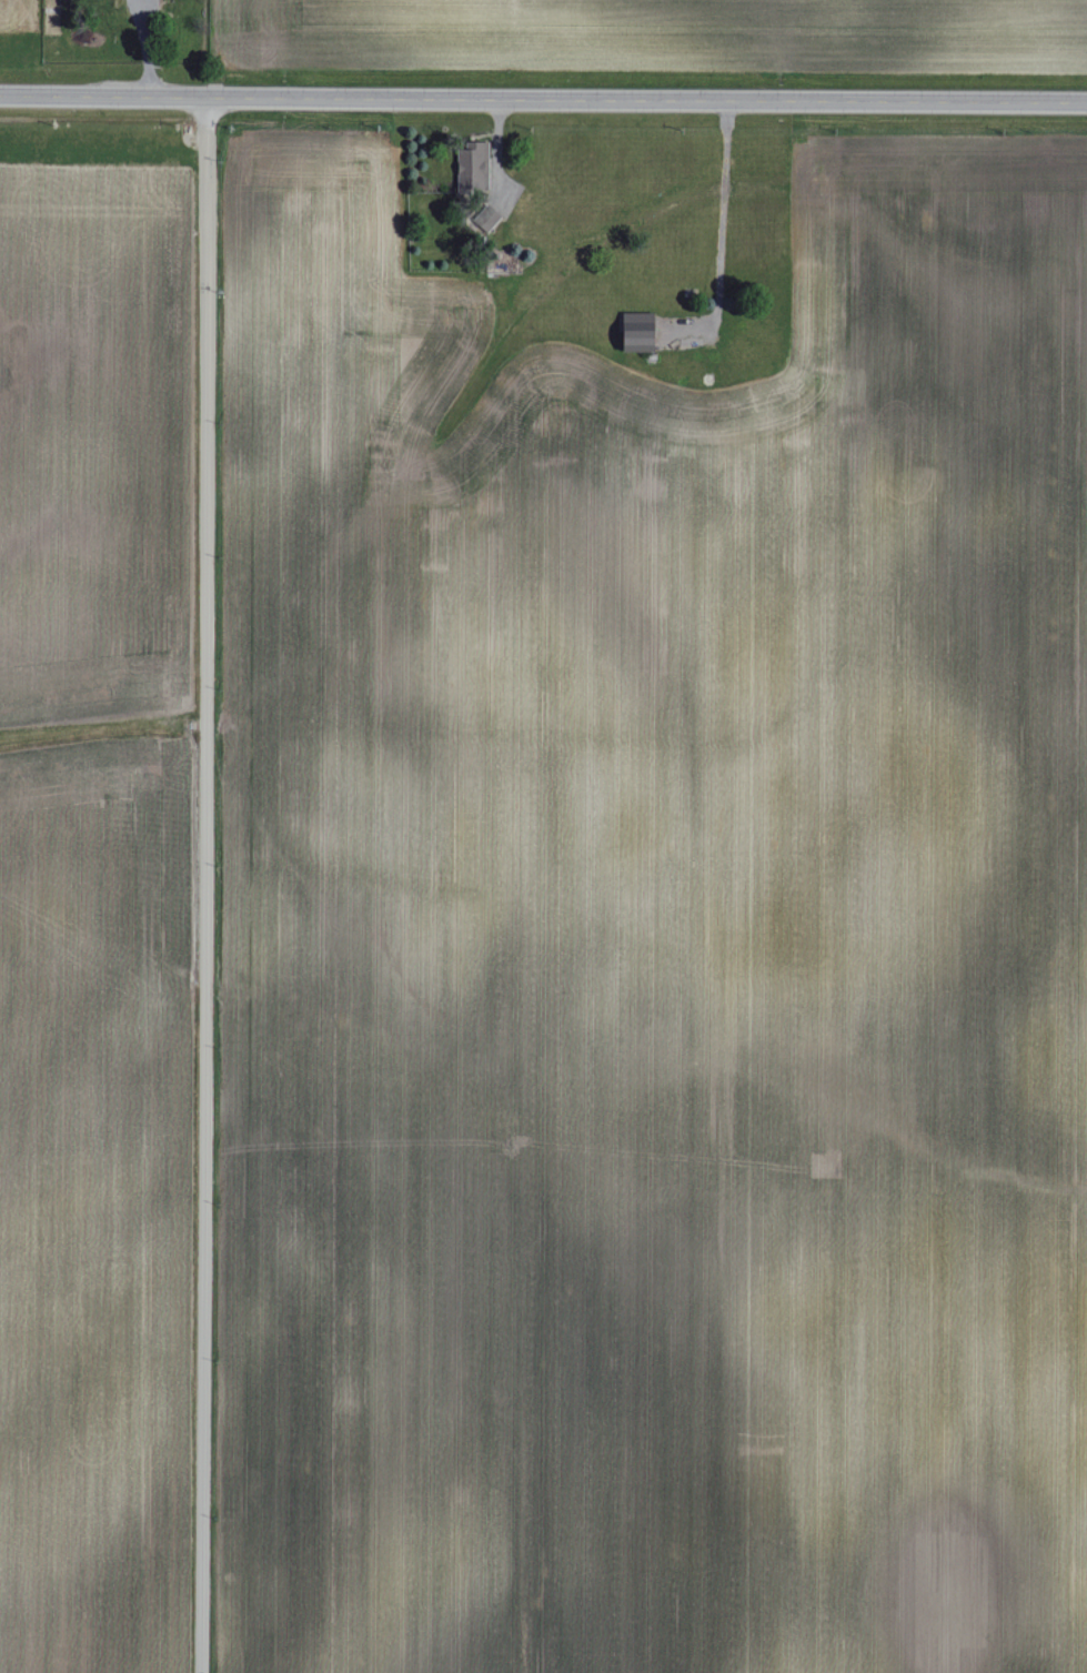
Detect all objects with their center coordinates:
road: (543, 100)
building: (469, 161)
building: (483, 219)
road: (719, 234)
building: (633, 332)
road: (202, 885)

